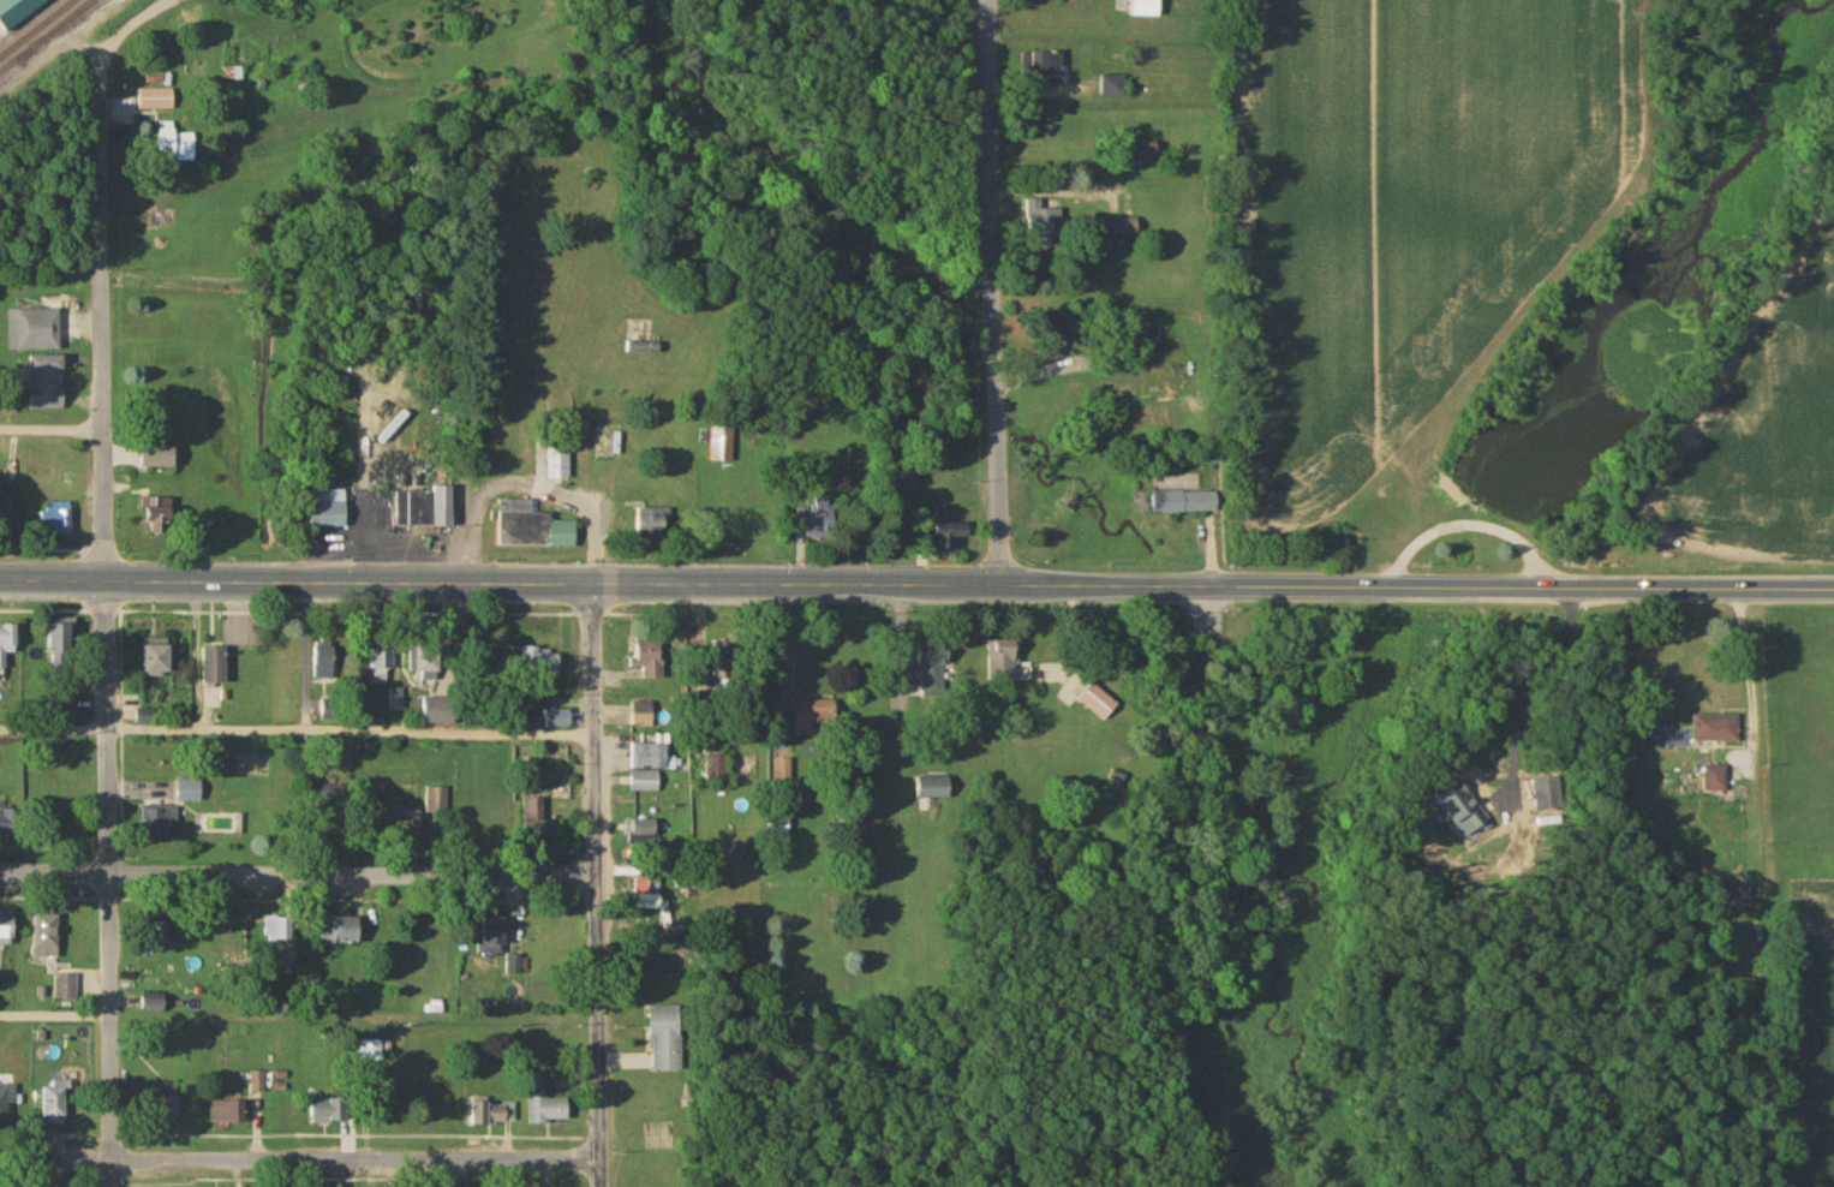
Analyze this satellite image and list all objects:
building: (1145, 8)
building: (17, 11)
railway: (37, 28)
railway: (46, 35)
road: (115, 36)
building: (1044, 66)
building: (1115, 89)
building: (155, 101)
building: (177, 145)
building: (1151, 151)
building: (1044, 225)
building: (1122, 231)
road: (996, 292)
building: (35, 332)
road: (98, 341)
building: (48, 383)
road: (49, 428)
building: (719, 445)
building: (161, 458)
building: (558, 461)
road: (526, 482)
building: (1187, 503)
building: (425, 508)
building: (329, 511)
road: (1475, 515)
building: (159, 517)
building: (58, 519)
building: (532, 529)
park: (1446, 537)
building: (952, 538)
road: (567, 586)
road: (1484, 587)
building: (8, 645)
building: (61, 645)
building: (160, 660)
building: (651, 661)
building: (324, 662)
building: (1004, 662)
building: (540, 663)
building: (378, 667)
building: (216, 668)
building: (431, 669)
building: (934, 670)
road: (1751, 676)
building: (735, 679)
road: (1522, 686)
building: (1093, 703)
building: (440, 712)
building: (641, 716)
building: (816, 717)
building: (552, 721)
building: (1709, 728)
road: (295, 732)
building: (647, 758)
building: (782, 770)
building: (1708, 779)
building: (644, 785)
building: (934, 789)
building: (189, 794)
building: (329, 799)
building: (1452, 807)
building: (533, 816)
building: (422, 817)
building: (161, 823)
building: (10, 830)
building: (777, 831)
building: (643, 834)
road: (295, 872)
road: (108, 884)
road: (593, 885)
building: (1734, 893)
building: (645, 894)
building: (6, 926)
building: (280, 932)
building: (336, 934)
building: (47, 936)
building: (494, 940)
building: (514, 965)
building: (66, 988)
building: (155, 1006)
road: (54, 1013)
building: (665, 1039)
building: (258, 1082)
building: (55, 1103)
building: (7, 1104)
building: (548, 1109)
building: (328, 1110)
building: (228, 1113)
building: (490, 1114)
road: (54, 1159)
road: (353, 1159)

